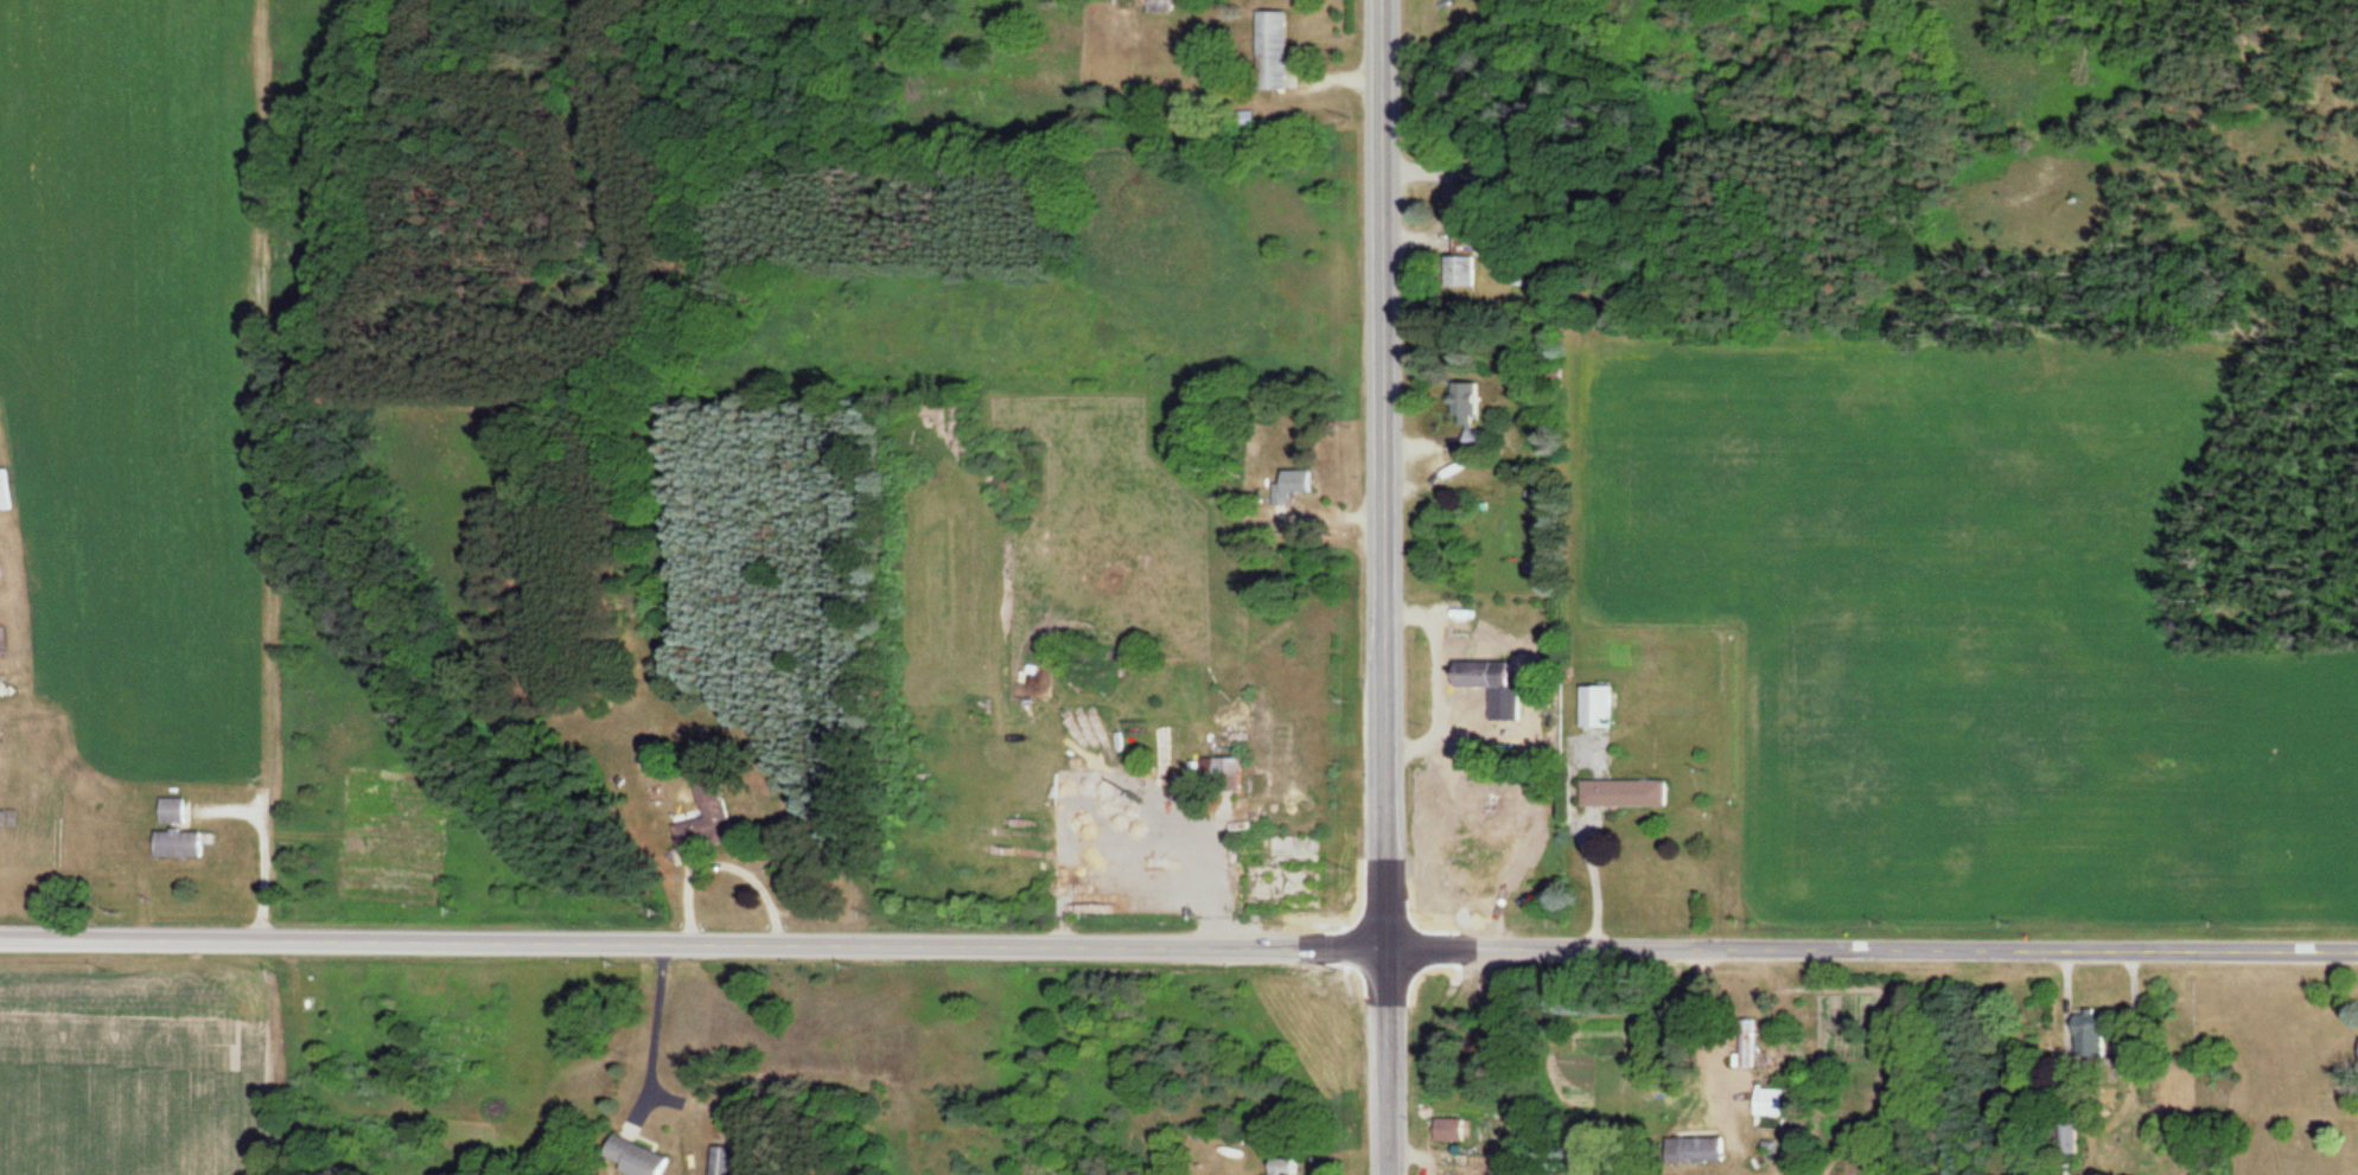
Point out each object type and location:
building: (1159, 6)
building: (1268, 51)
building: (1458, 270)
building: (1460, 409)
building: (1293, 480)
road: (1383, 587)
building: (1487, 685)
building: (1591, 707)
building: (1223, 773)
building: (1619, 793)
building: (171, 810)
building: (690, 828)
building: (174, 843)
road: (692, 941)
road: (1871, 950)
building: (2085, 1036)
building: (1746, 1042)
building: (2357, 1051)
building: (1767, 1101)
building: (1445, 1129)
building: (2065, 1136)
building: (1691, 1150)
building: (632, 1157)
building: (1554, 1174)

